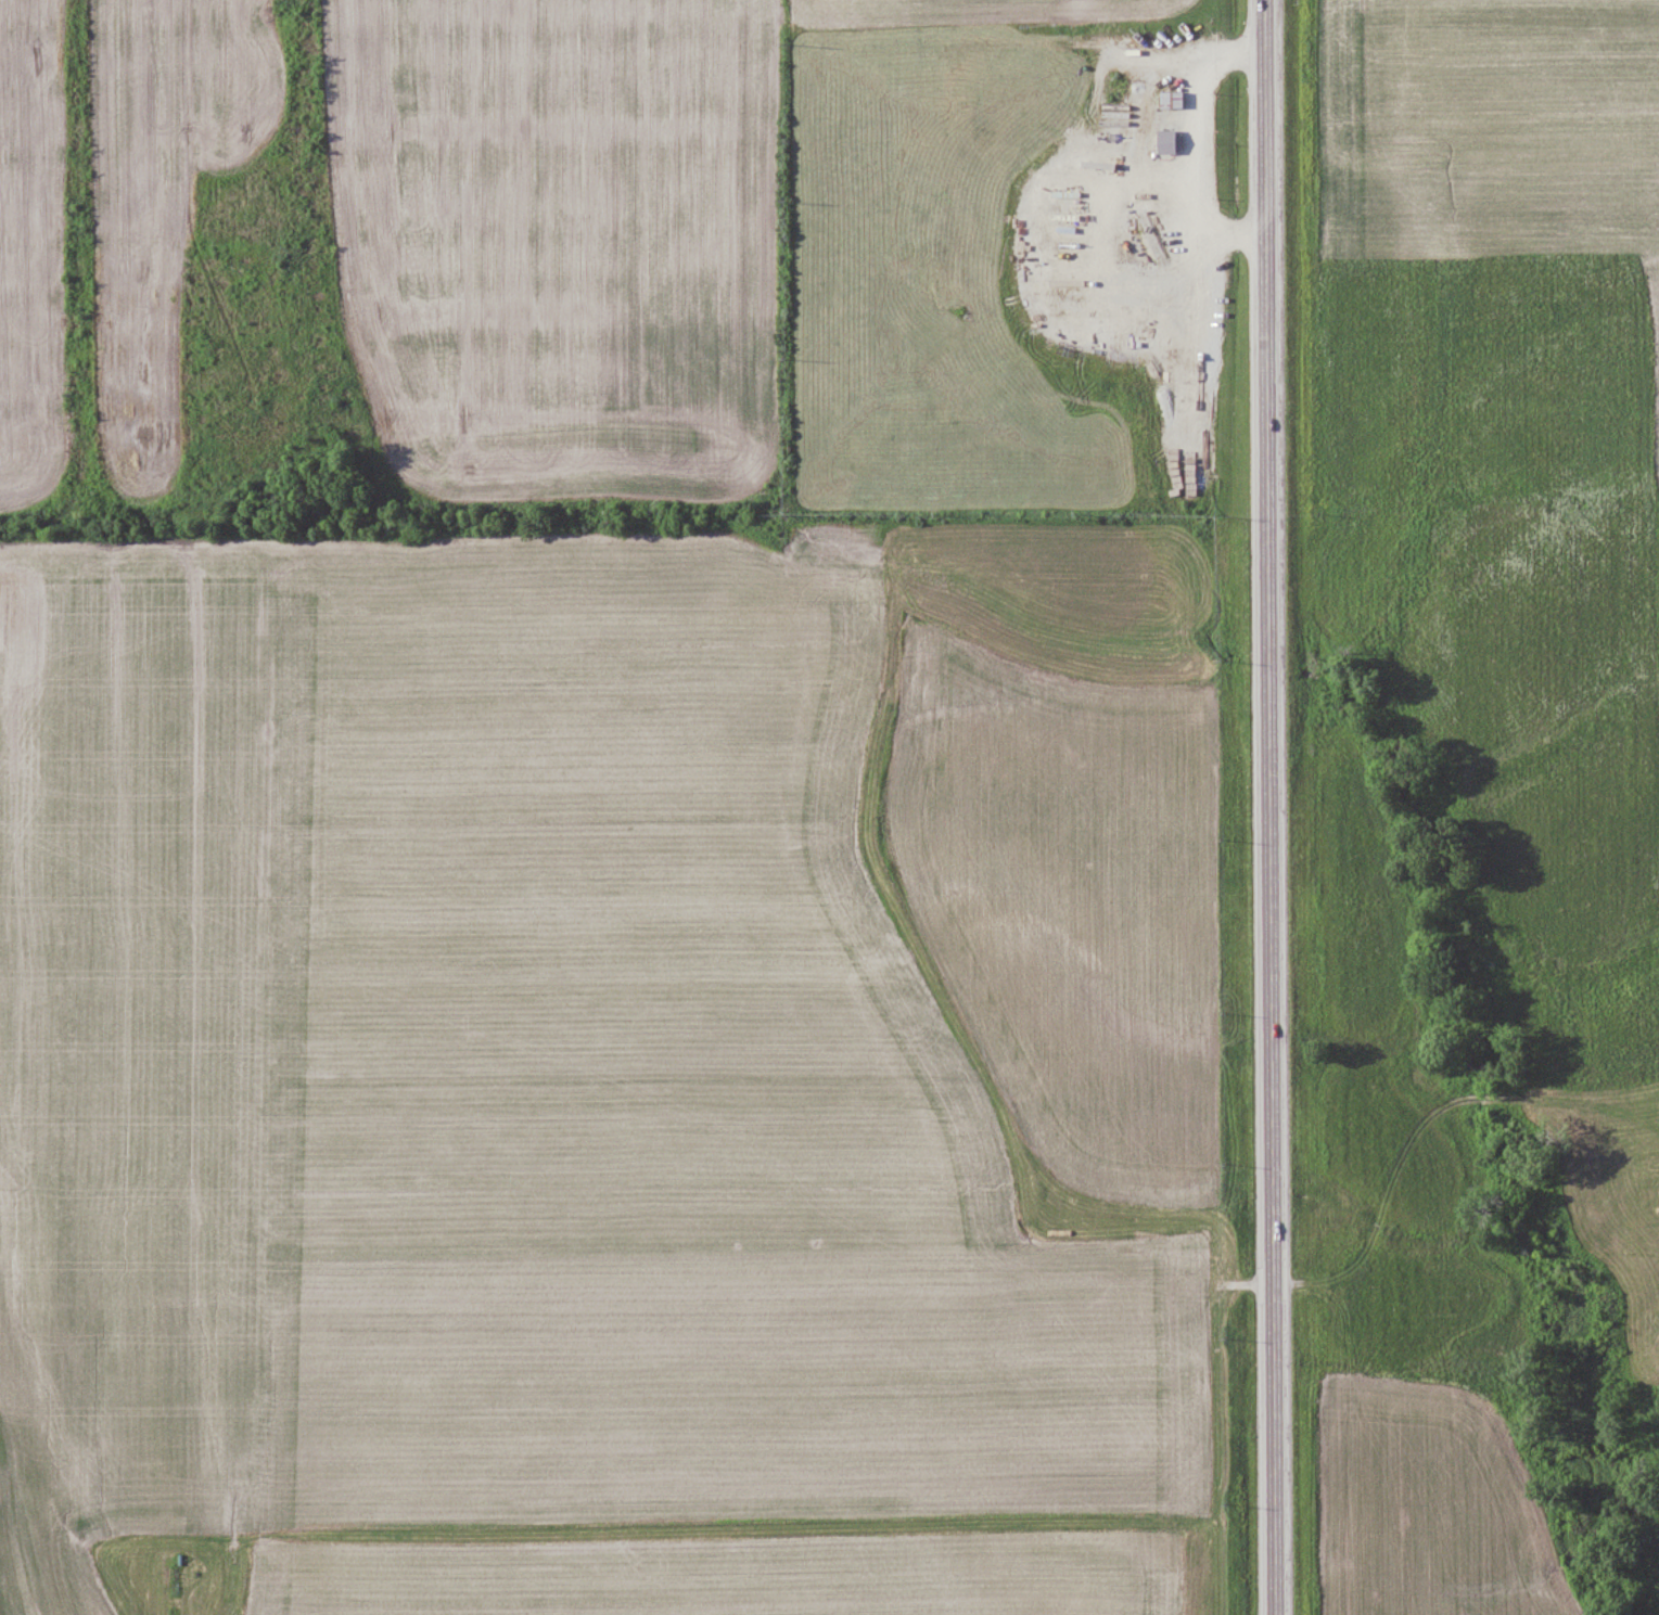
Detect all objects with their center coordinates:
building: (1163, 143)
road: (1272, 807)

